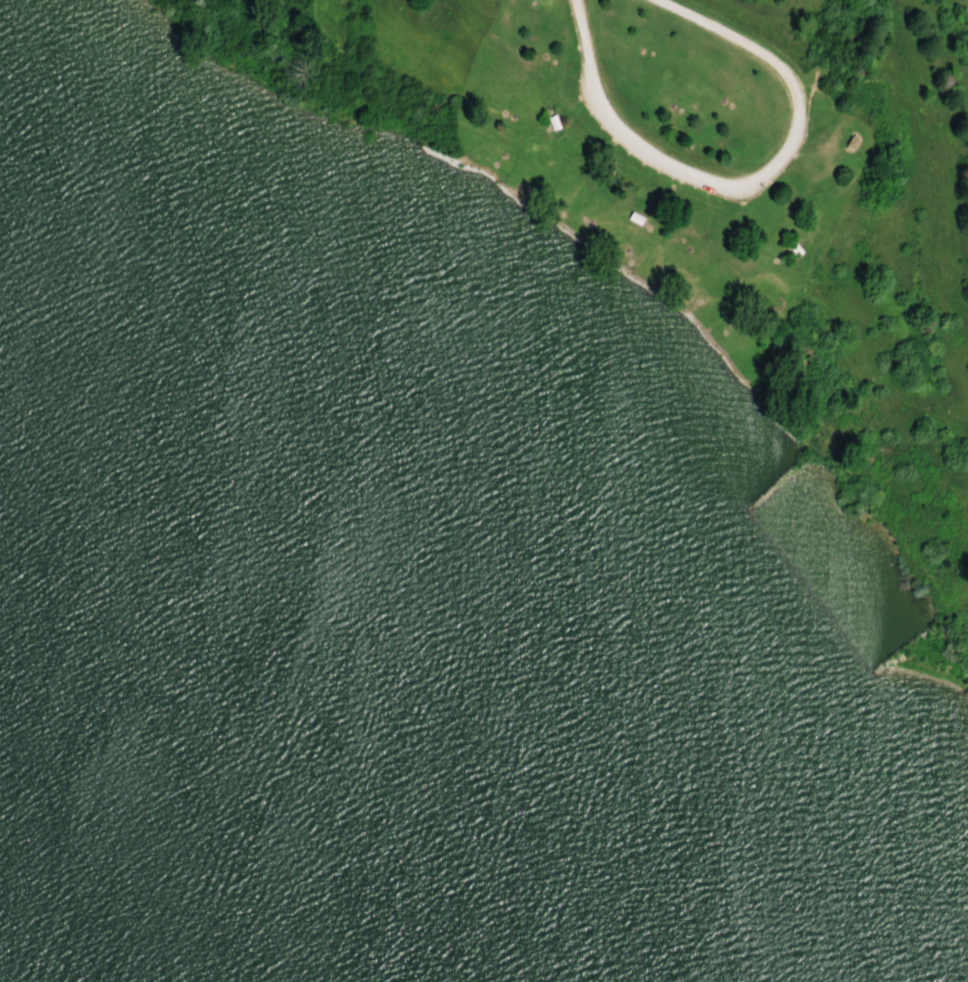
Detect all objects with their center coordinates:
road: (743, 188)
park: (484, 491)

